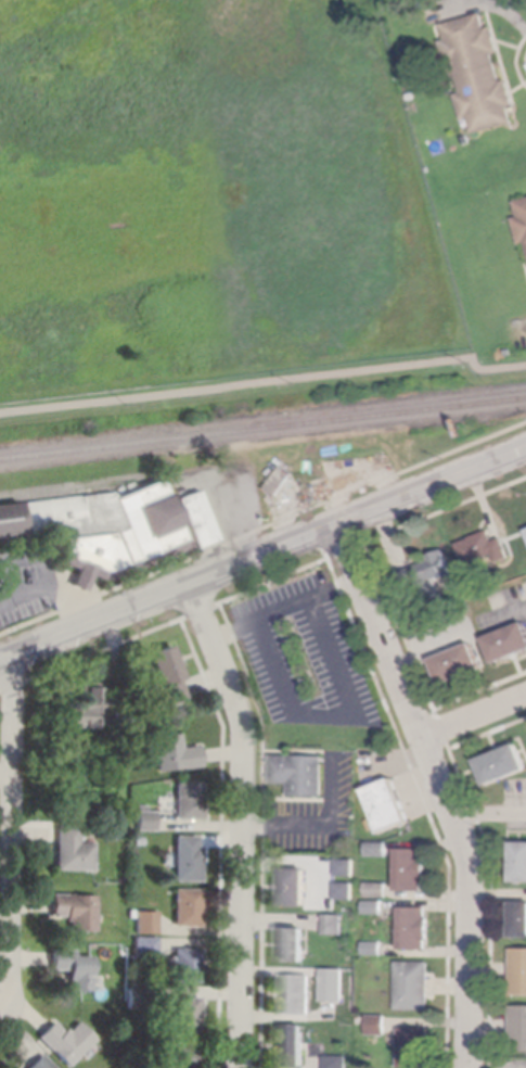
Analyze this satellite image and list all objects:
building: (478, 73)
wastewater plant: (208, 195)
building: (522, 220)
building: (510, 352)
road: (266, 383)
railway: (262, 429)
building: (271, 471)
building: (281, 481)
road: (517, 481)
building: (197, 519)
building: (95, 526)
road: (262, 527)
building: (484, 548)
road: (264, 551)
building: (424, 573)
road: (43, 578)
road: (67, 599)
road: (285, 608)
building: (509, 643)
building: (459, 663)
building: (168, 673)
building: (86, 710)
road: (335, 716)
road: (475, 717)
building: (175, 753)
building: (503, 764)
road: (4, 774)
building: (300, 774)
road: (444, 787)
building: (189, 800)
building: (389, 805)
road: (491, 815)
road: (8, 816)
building: (145, 818)
road: (242, 821)
road: (281, 826)
building: (138, 841)
building: (379, 849)
building: (73, 850)
building: (188, 859)
building: (519, 862)
building: (347, 867)
building: (412, 869)
building: (296, 887)
building: (379, 890)
building: (346, 891)
building: (374, 906)
building: (188, 907)
building: (76, 910)
building: (130, 913)
building: (519, 919)
building: (145, 923)
building: (334, 924)
building: (415, 928)
building: (294, 944)
building: (145, 946)
building: (374, 948)
building: (184, 965)
building: (137, 967)
building: (73, 968)
building: (518, 971)
building: (333, 984)
building: (414, 986)
building: (296, 994)
building: (139, 999)
building: (185, 1015)
building: (379, 1025)
building: (518, 1028)
building: (66, 1041)
building: (293, 1045)
building: (415, 1047)
building: (176, 1057)
building: (337, 1061)
building: (39, 1064)

